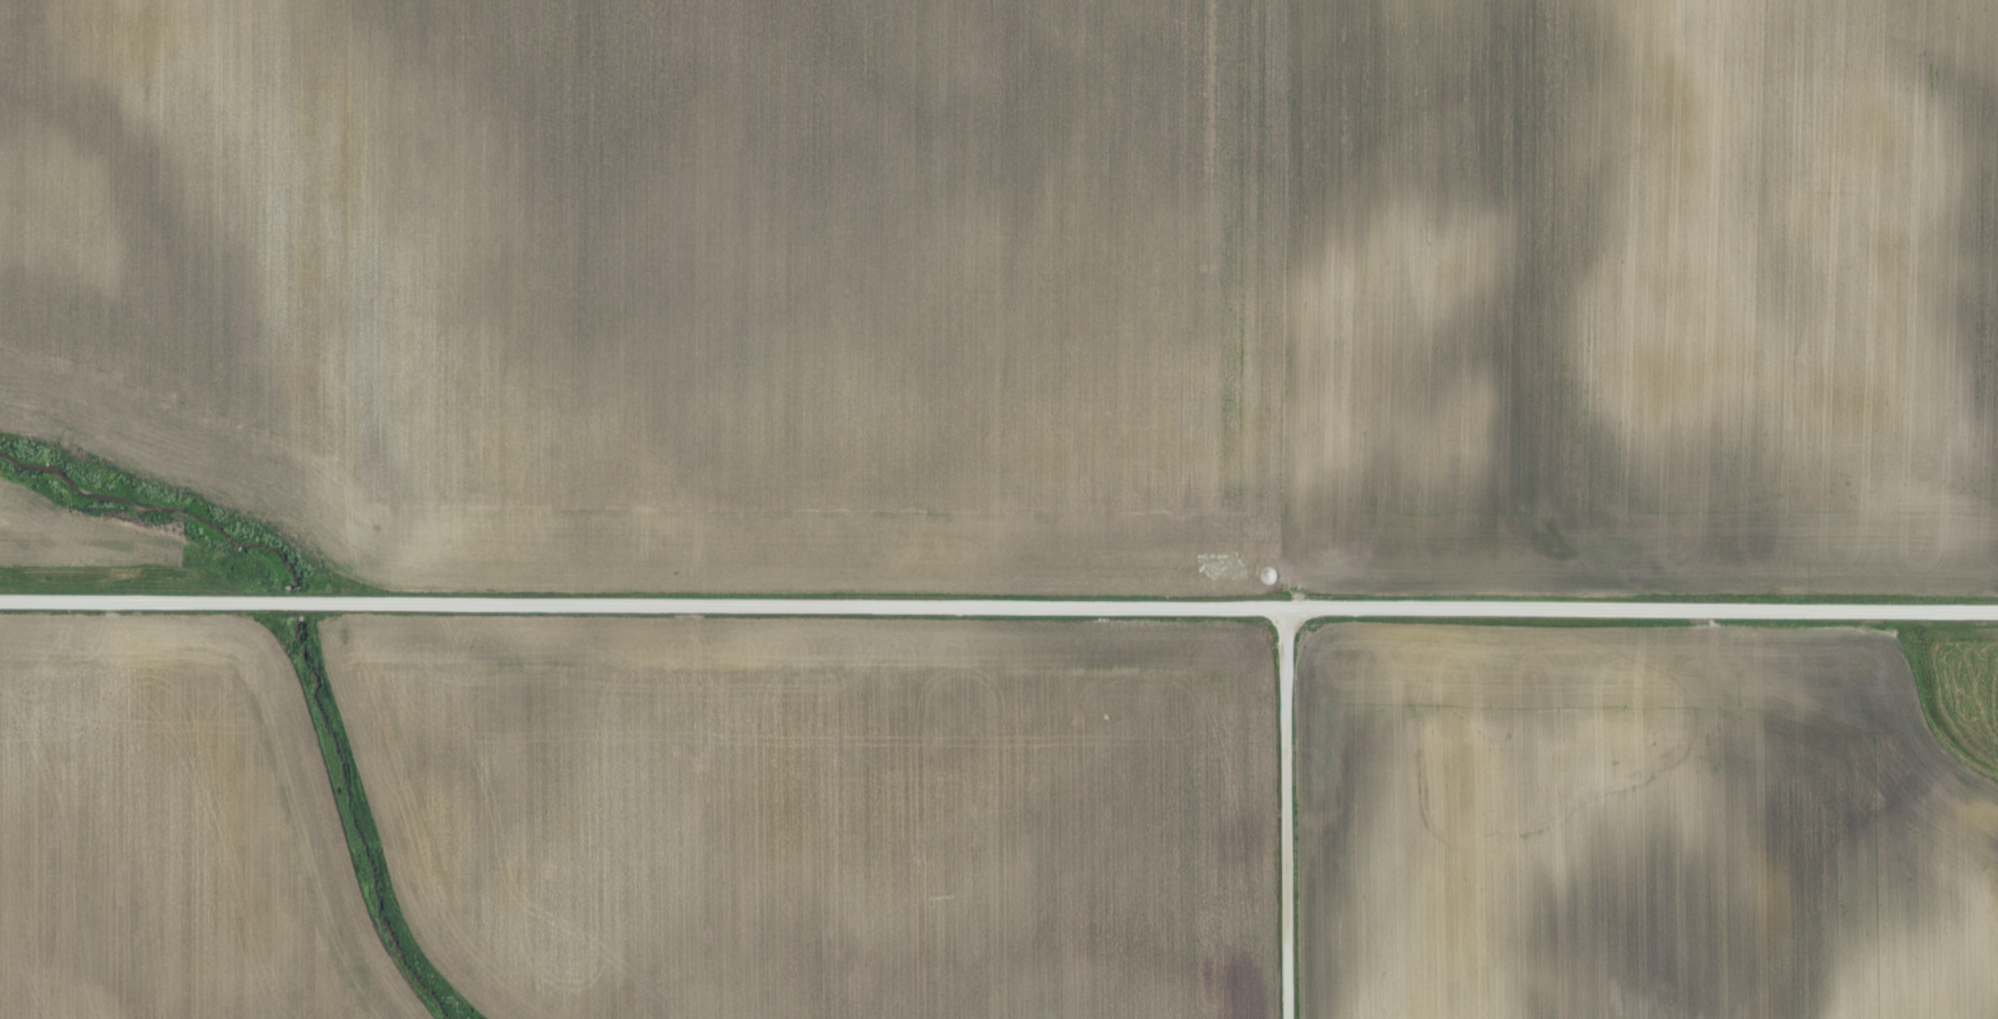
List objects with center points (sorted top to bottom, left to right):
road: (999, 604)
road: (1286, 812)

